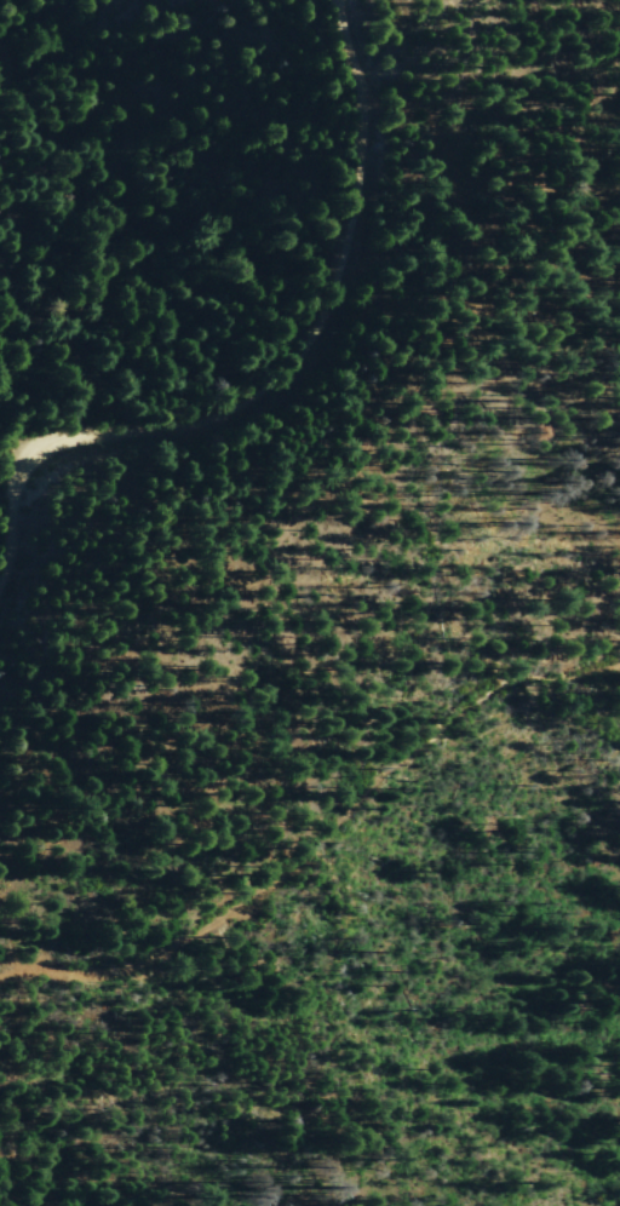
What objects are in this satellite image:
road: (279, 357)

